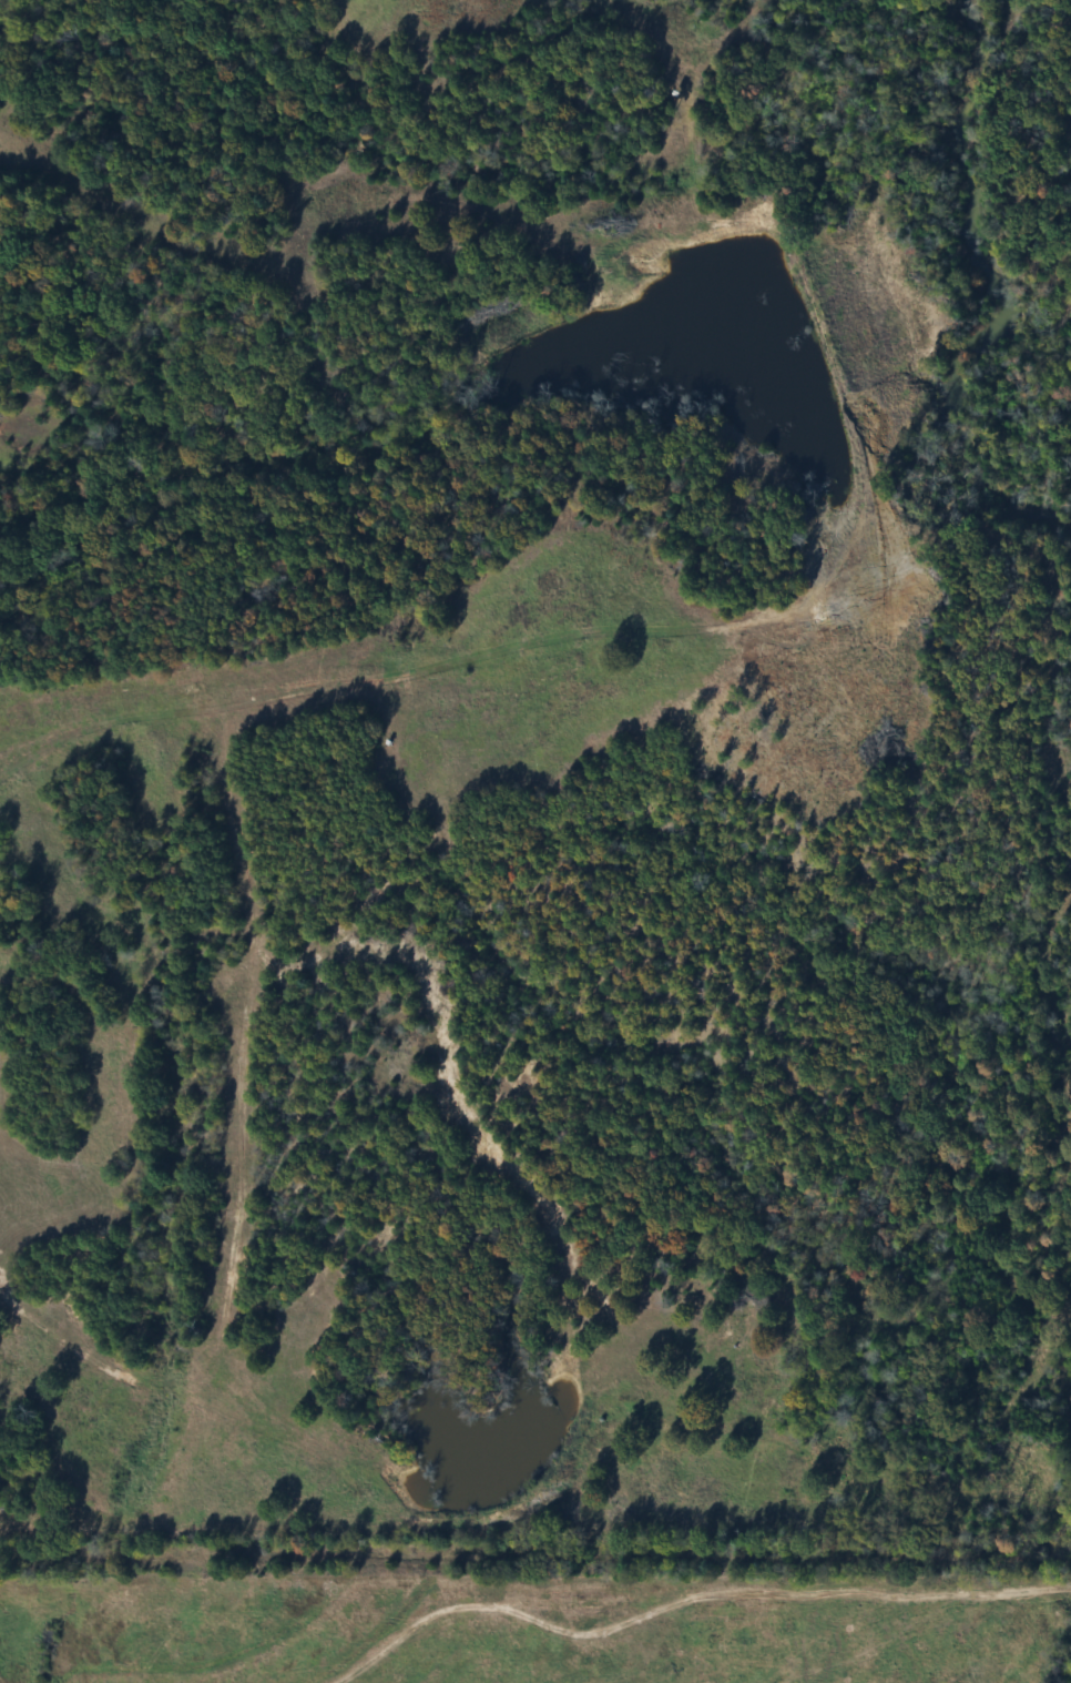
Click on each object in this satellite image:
road: (534, 1558)

